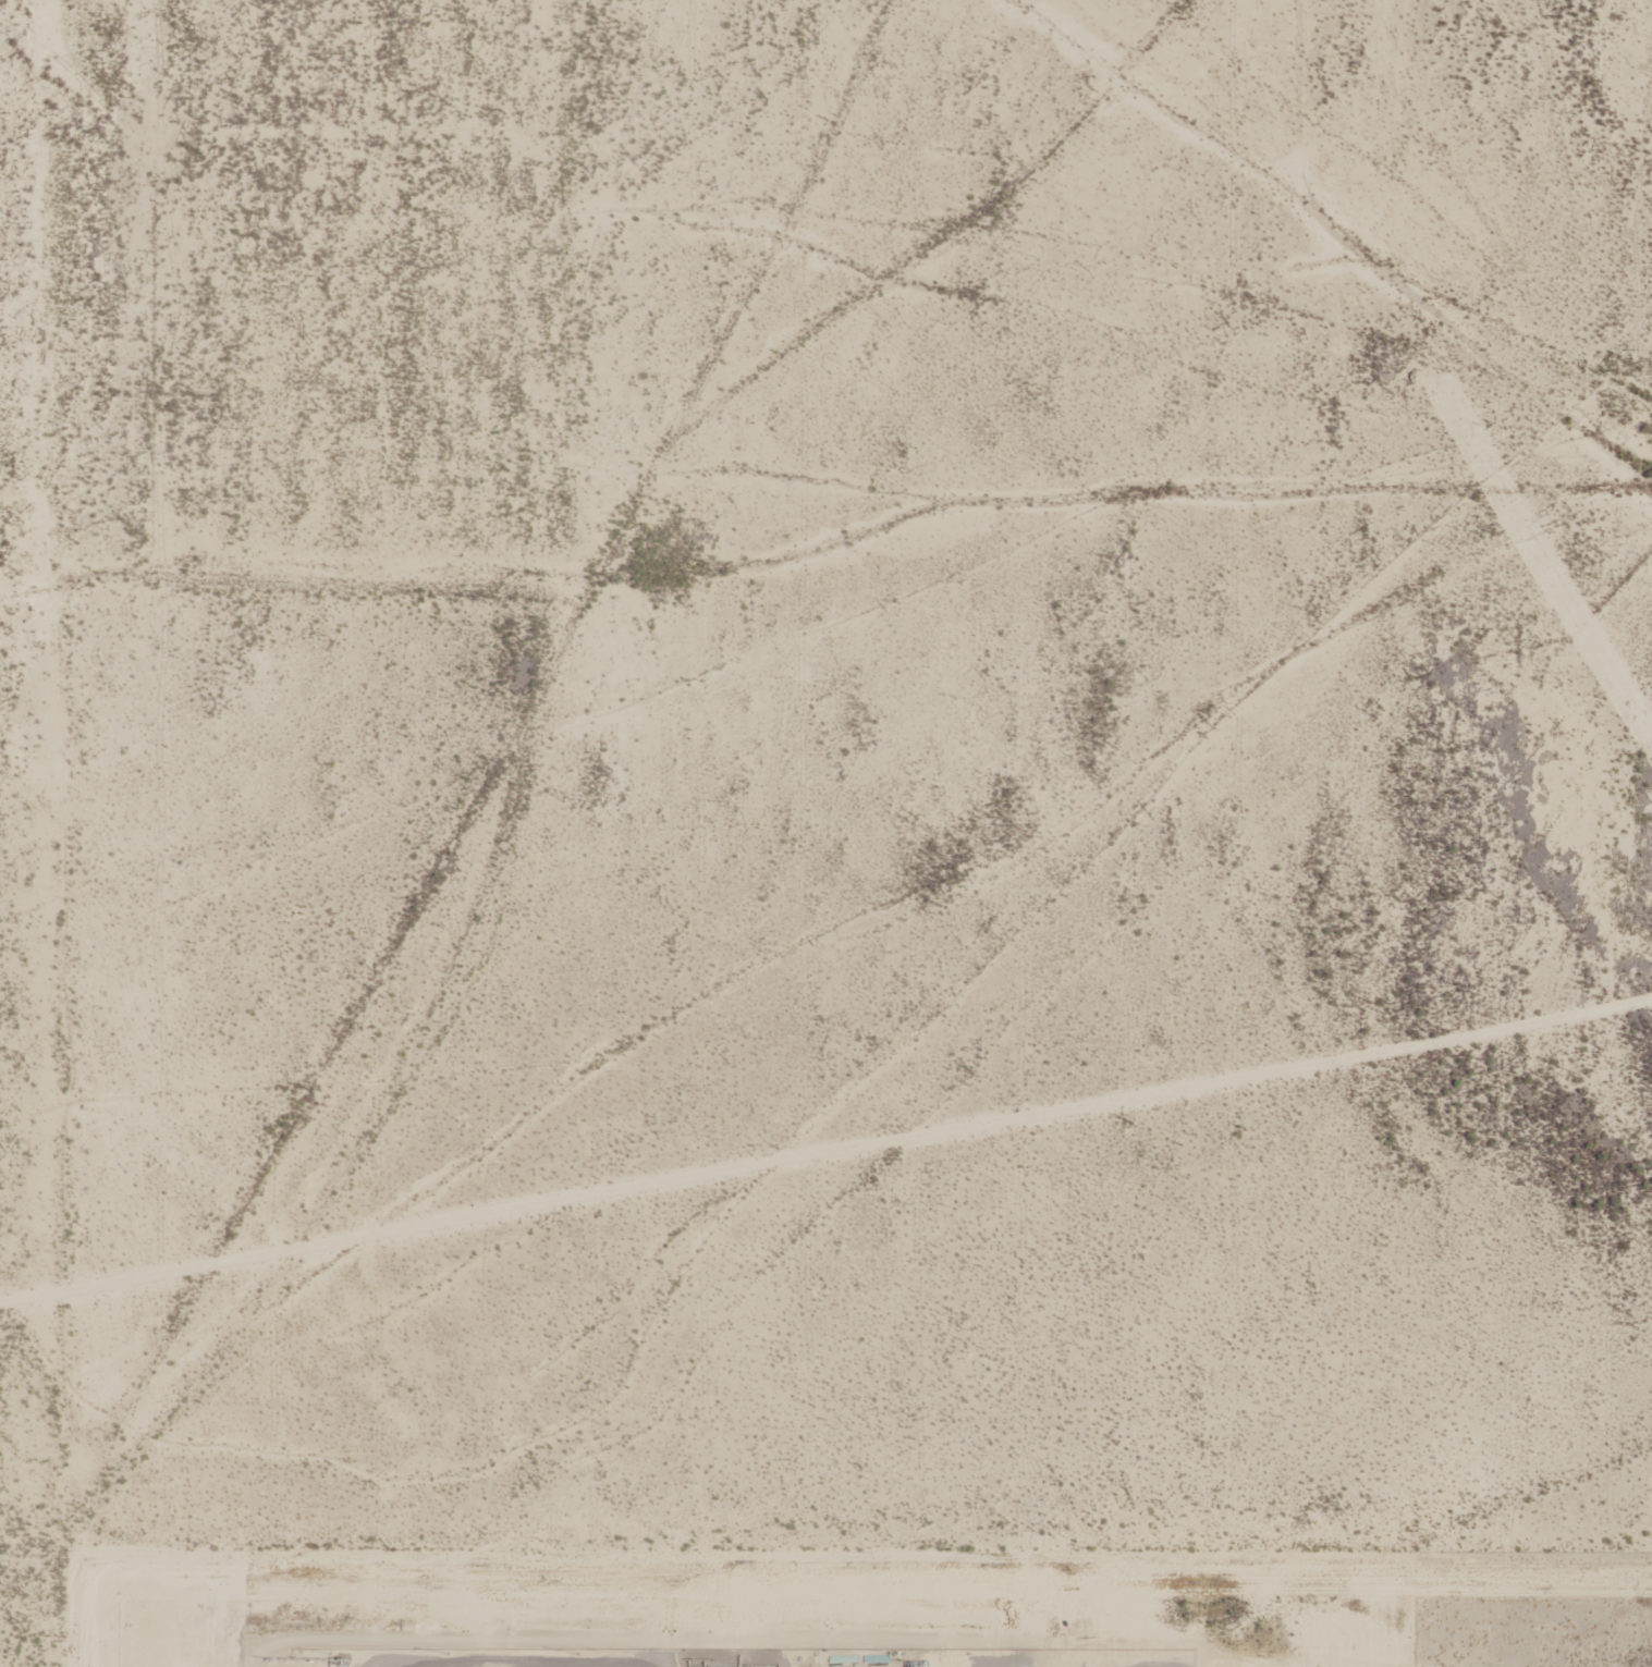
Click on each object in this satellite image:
road: (452, 768)

